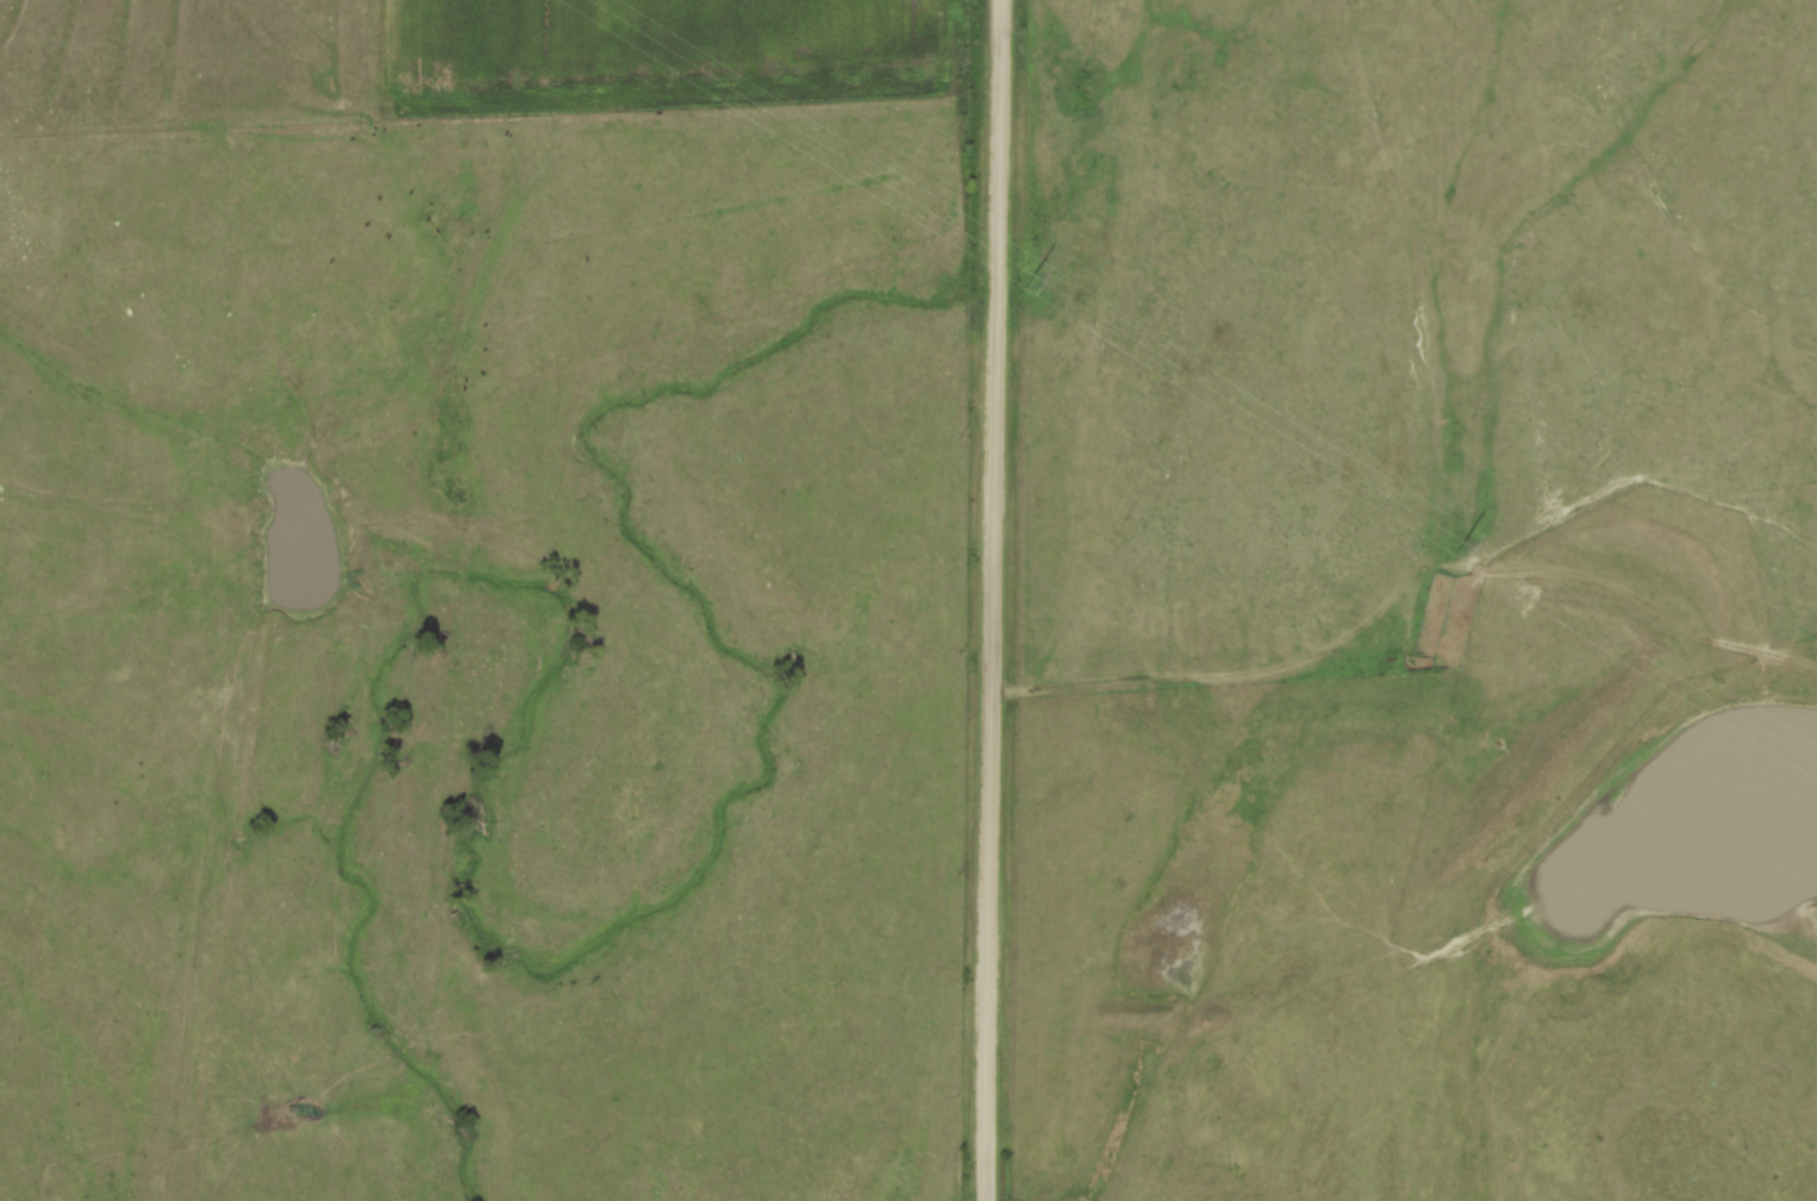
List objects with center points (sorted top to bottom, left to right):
crop: (653, 51)
power tower: (1029, 281)
power tower: (1459, 549)
road: (989, 600)

